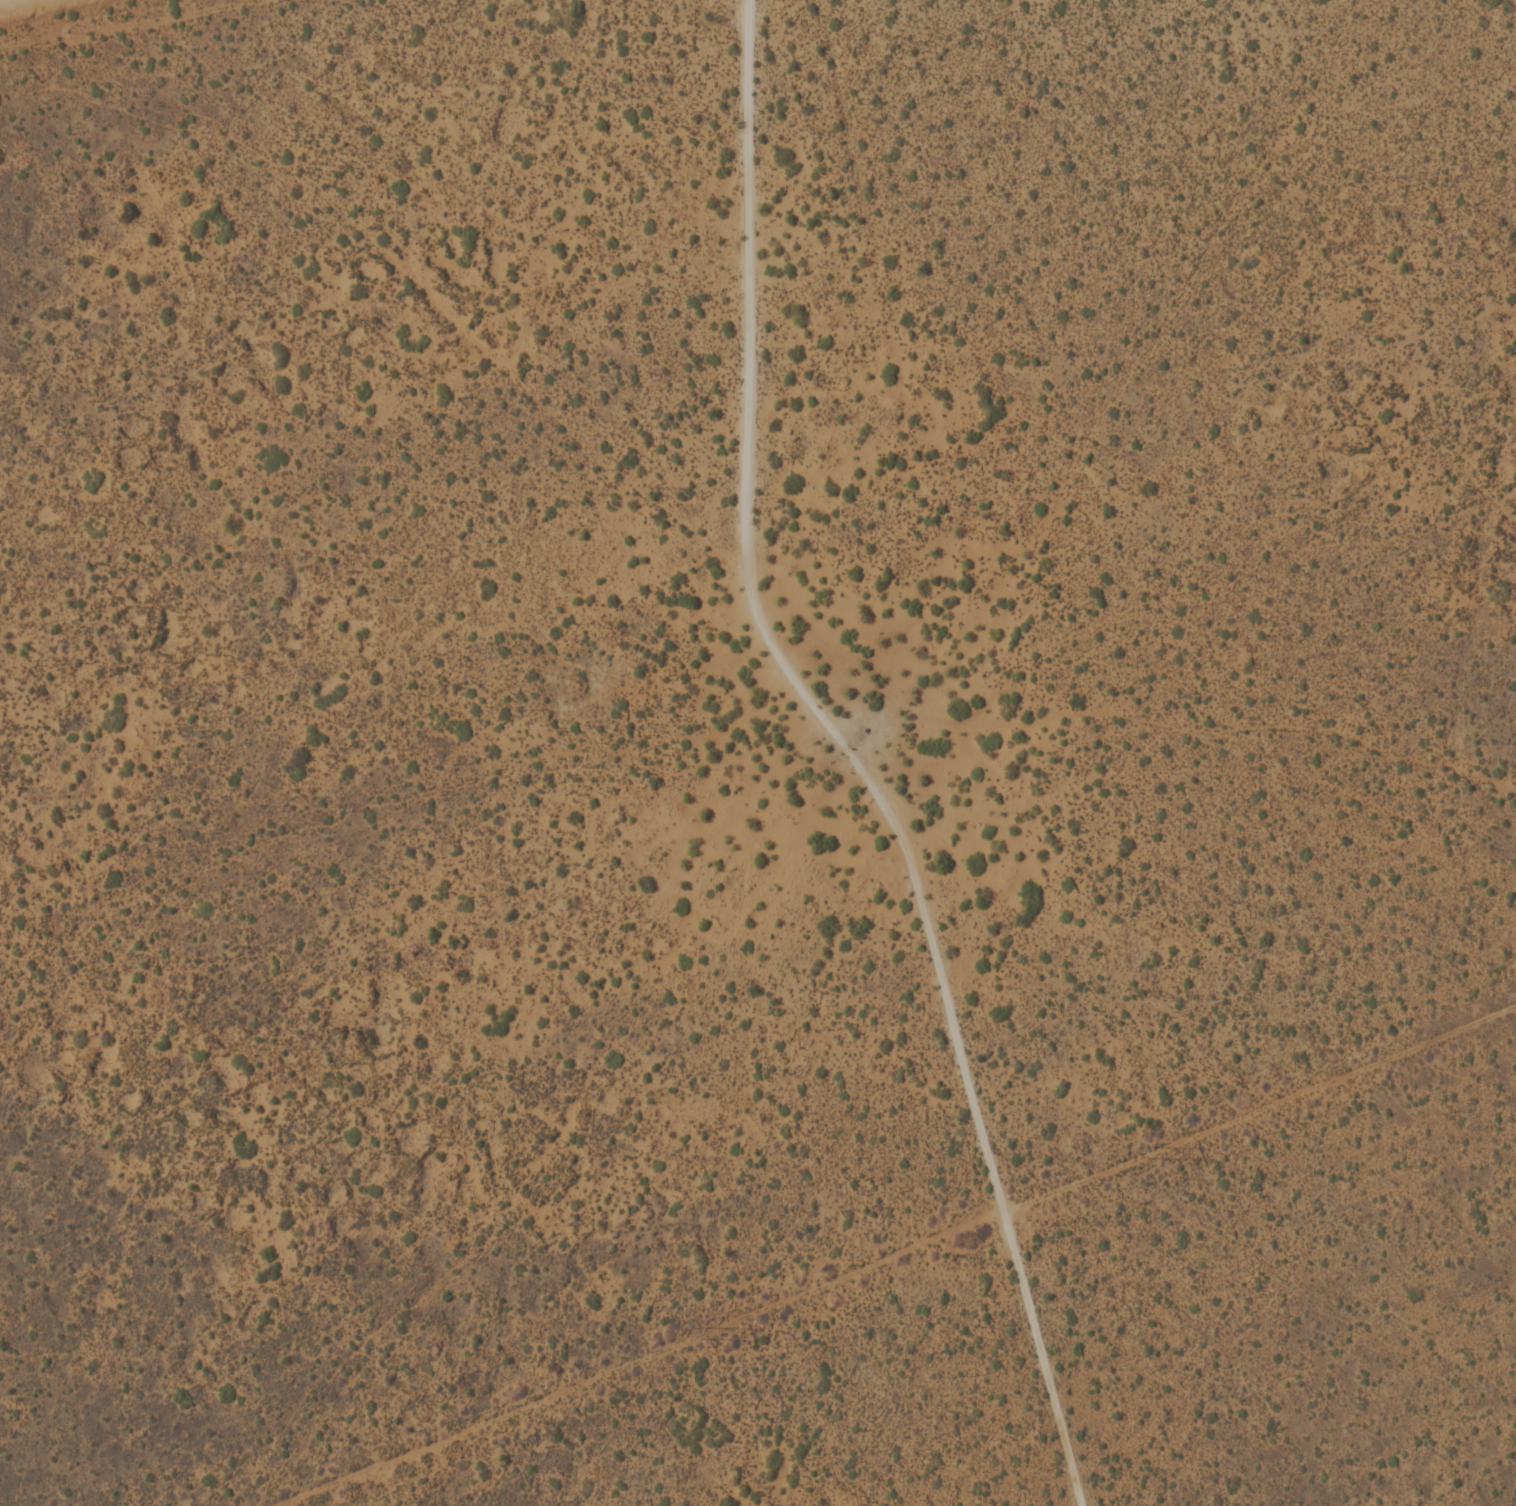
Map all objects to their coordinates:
road: (996, 453)
road: (850, 756)
power tower: (1152, 1151)
power tower: (703, 1332)

